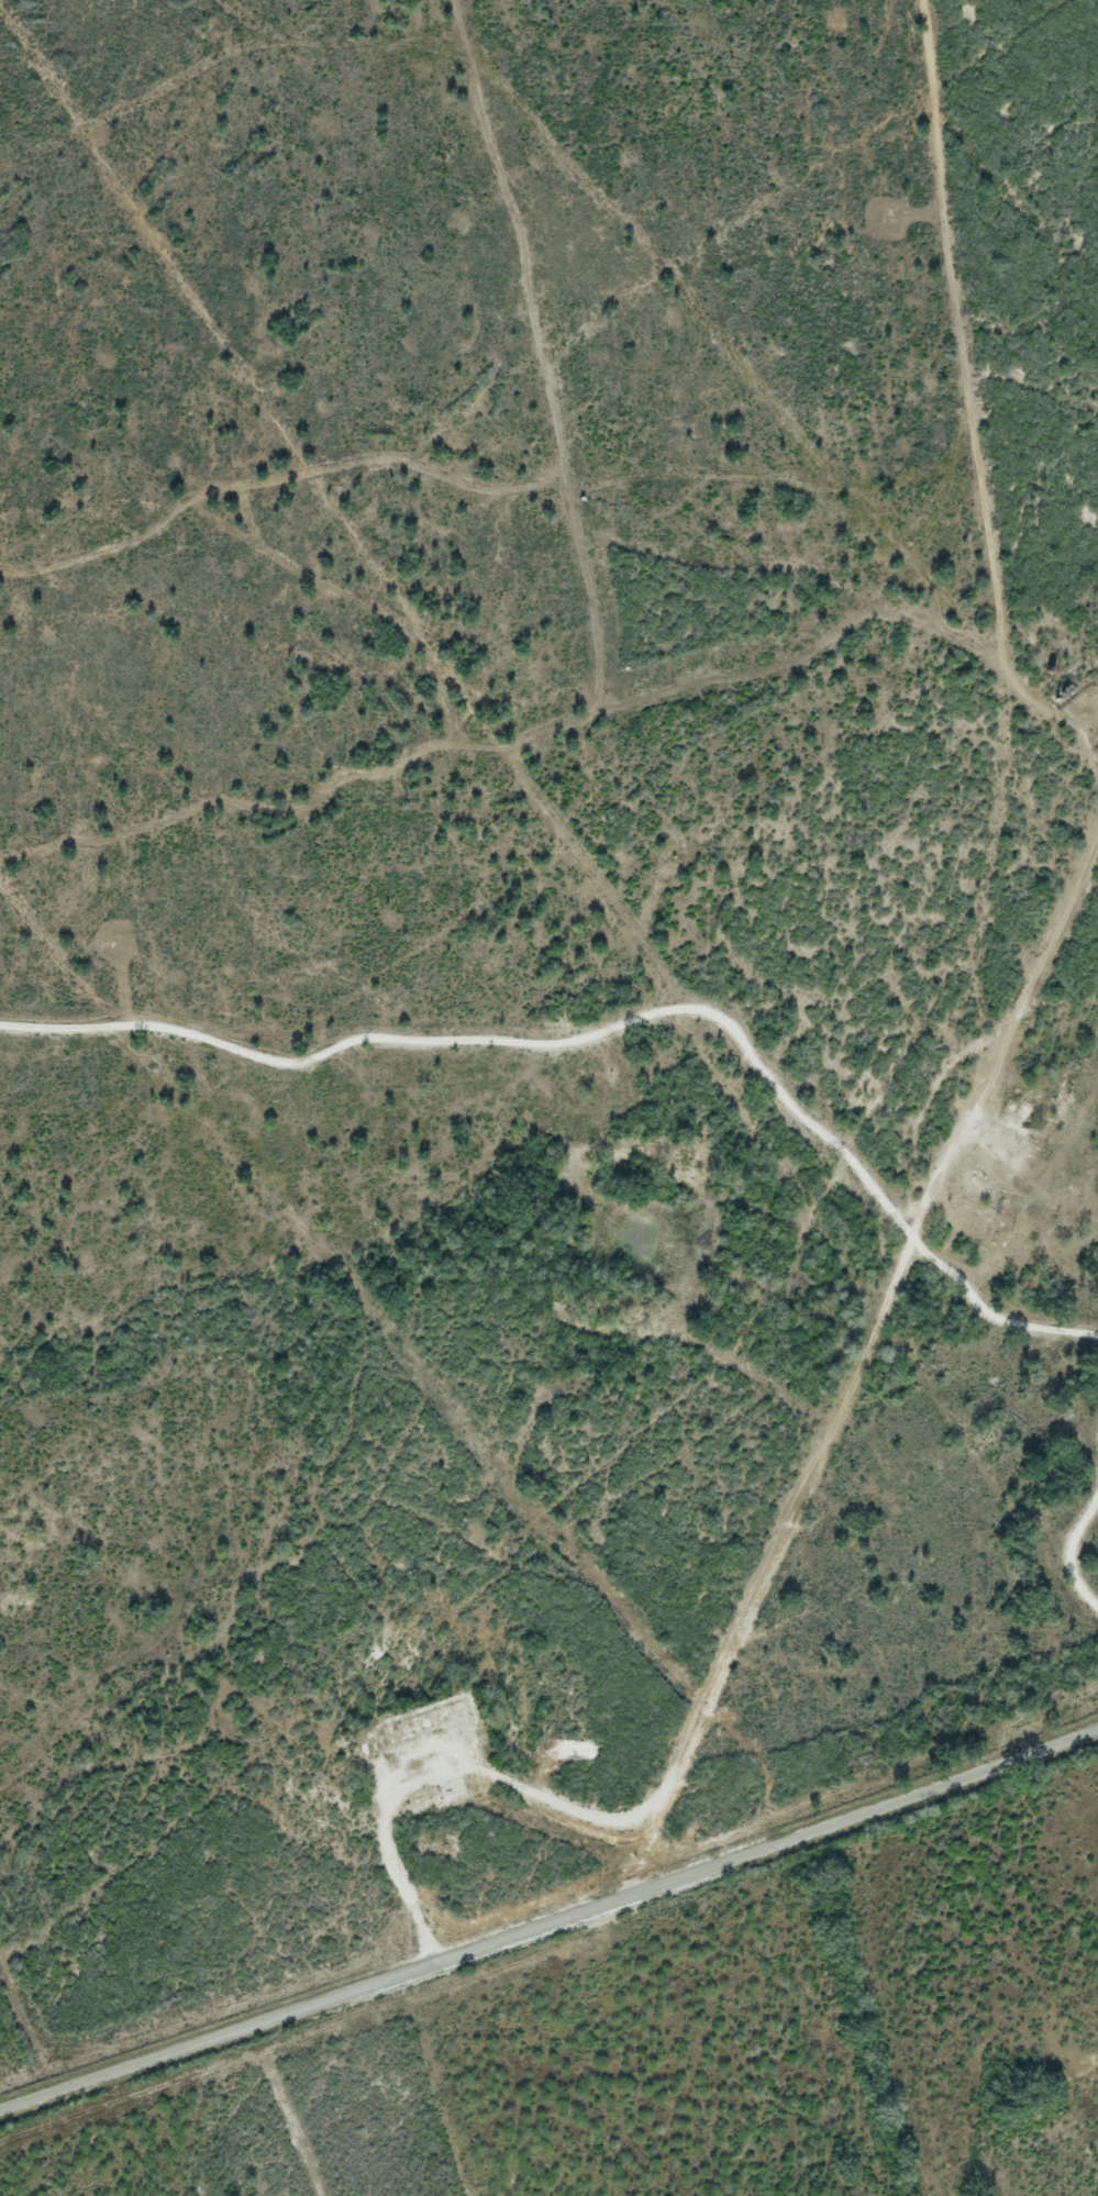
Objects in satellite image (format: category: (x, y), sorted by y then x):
road: (548, 1922)

